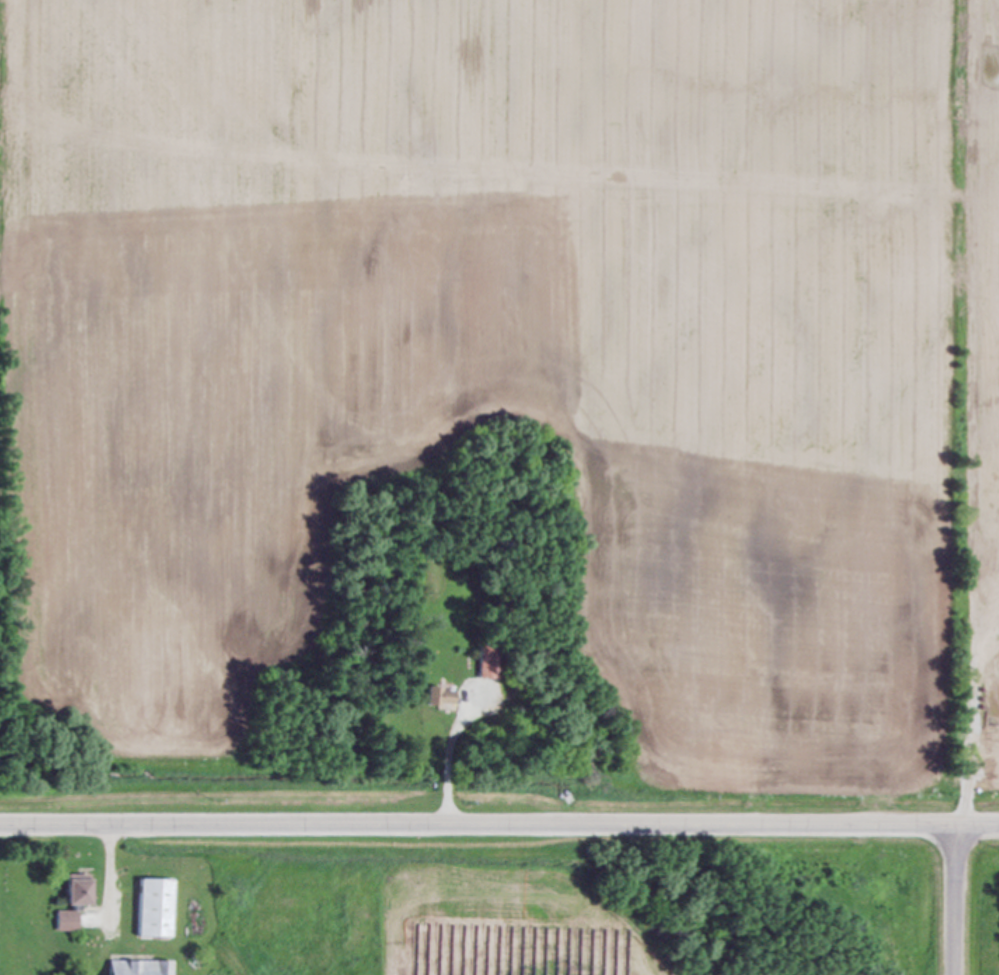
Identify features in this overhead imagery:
road: (975, 716)
road: (447, 768)
road: (499, 822)
road: (107, 877)
road: (954, 899)
building: (67, 904)
building: (149, 910)
building: (125, 968)
building: (161, 968)

